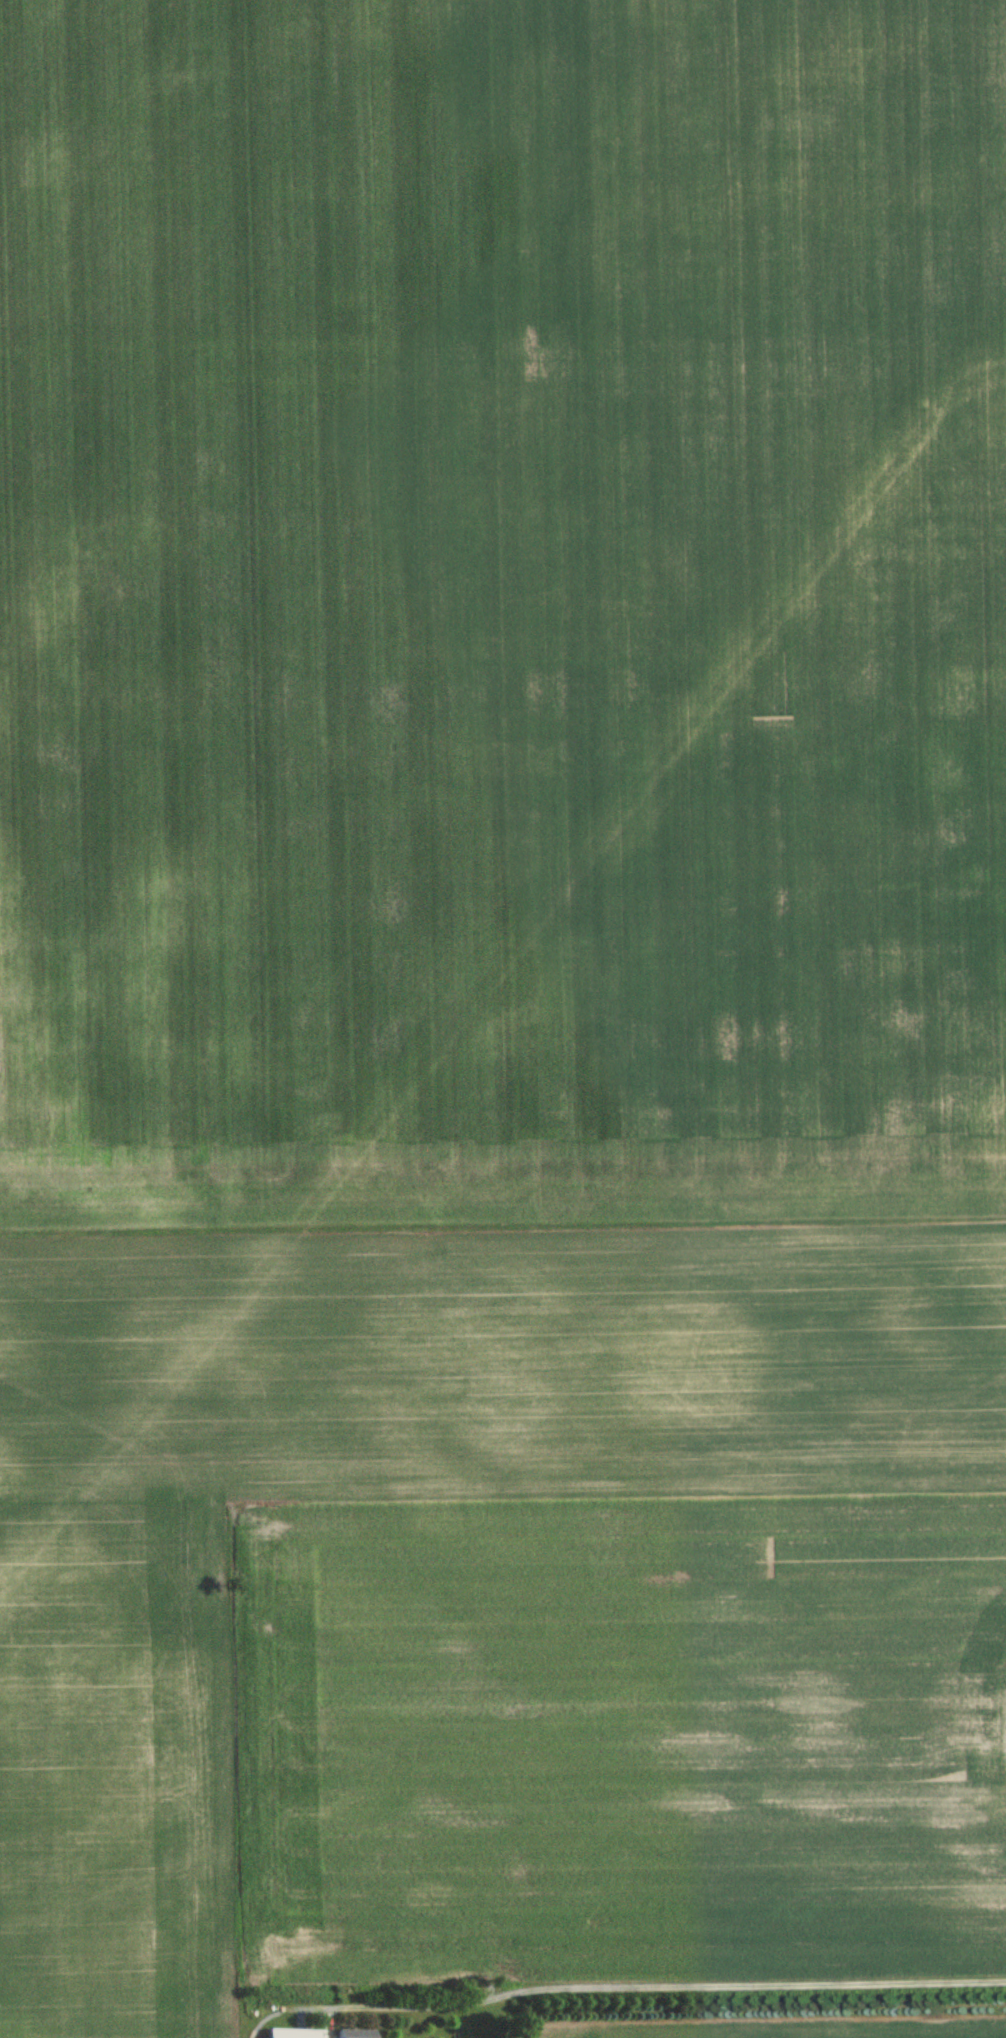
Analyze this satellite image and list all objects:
crop: (501, 618)
crop: (495, 1611)
road: (666, 1988)
crop: (879, 2033)
building: (353, 2034)

